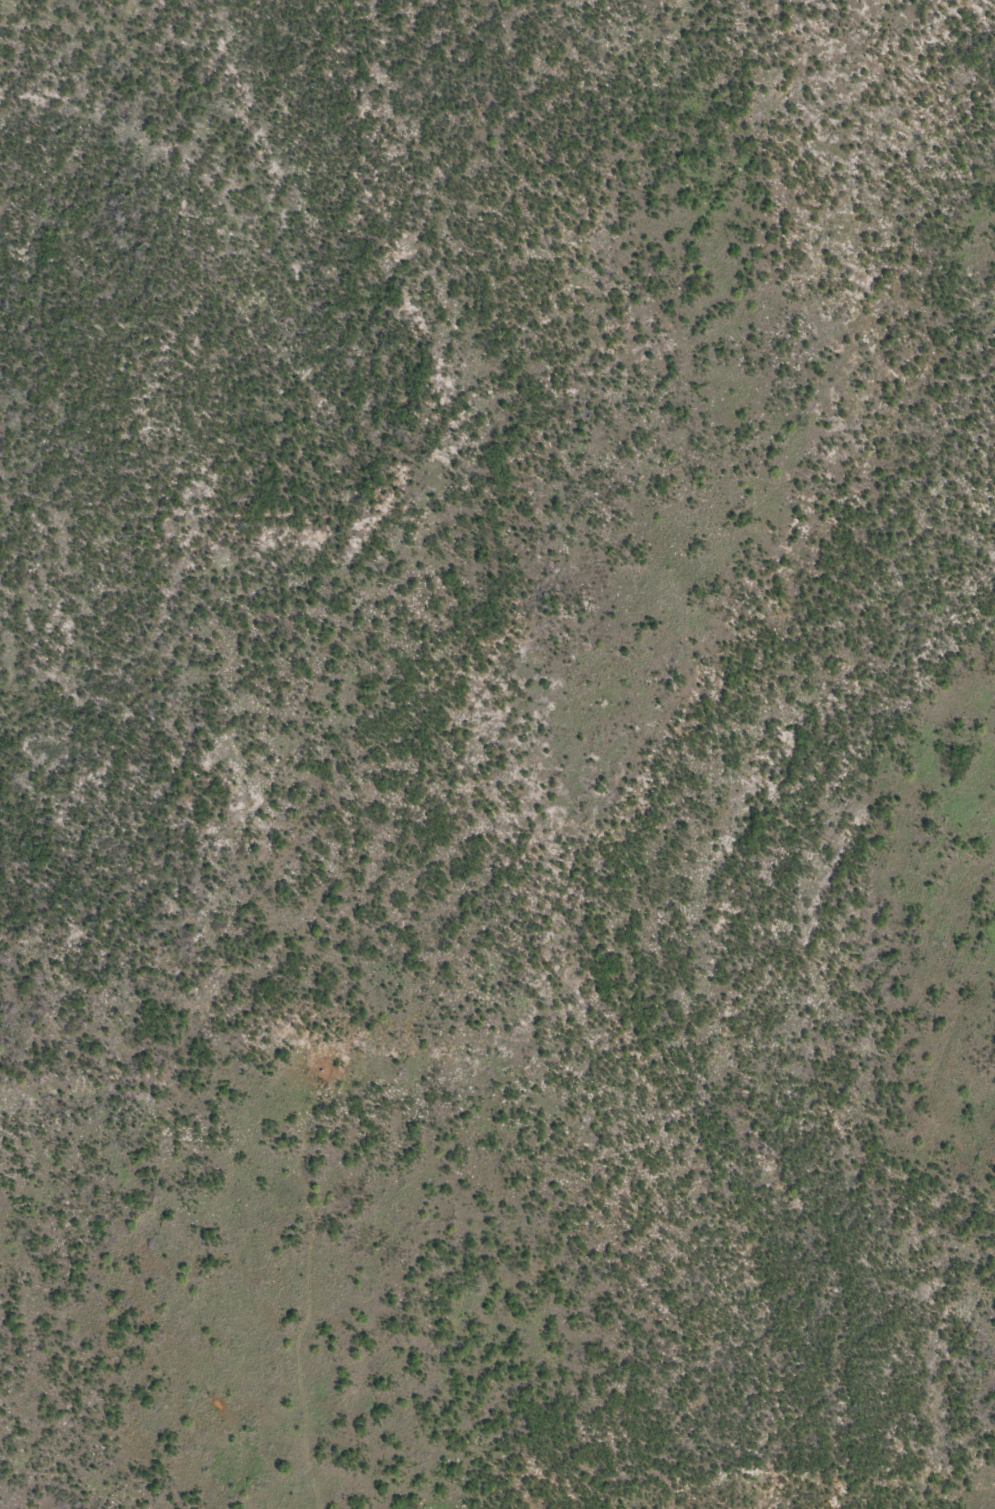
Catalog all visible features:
road: (945, 1068)

